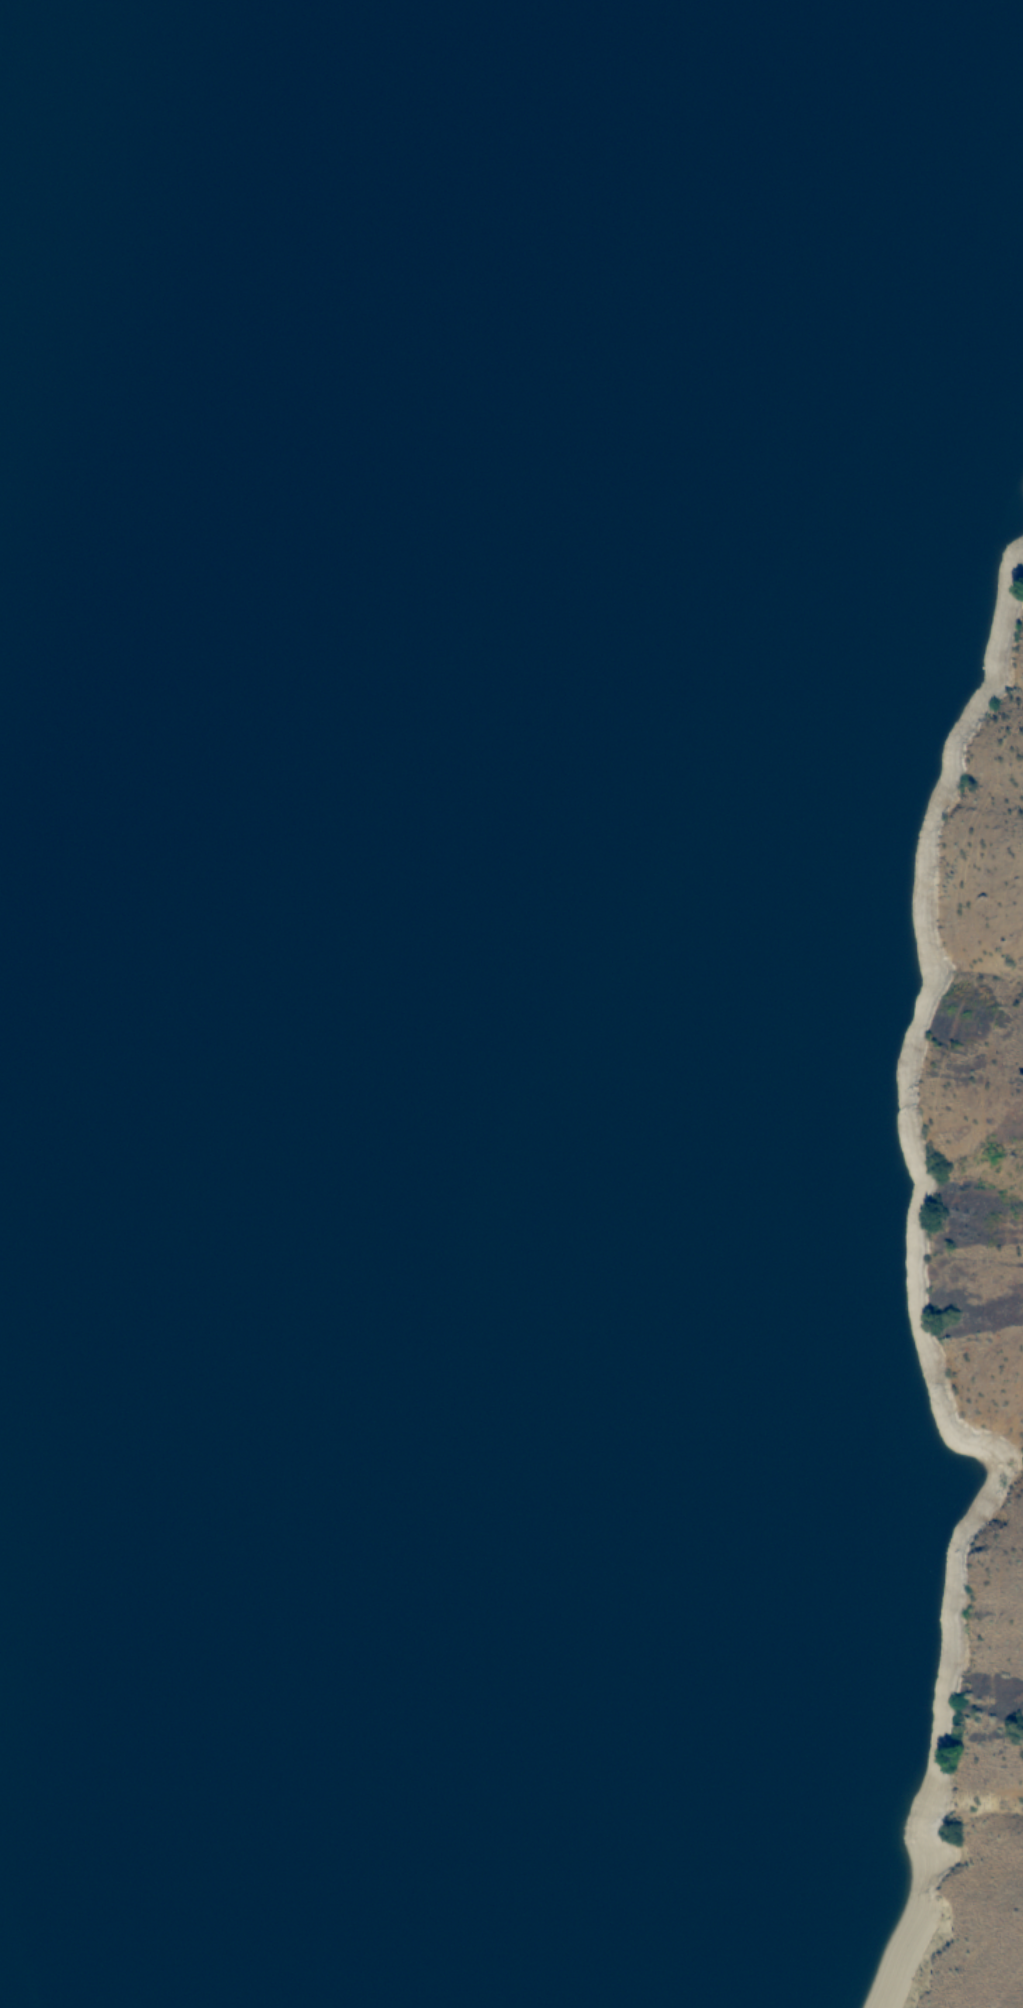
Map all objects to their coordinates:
river: (491, 964)

